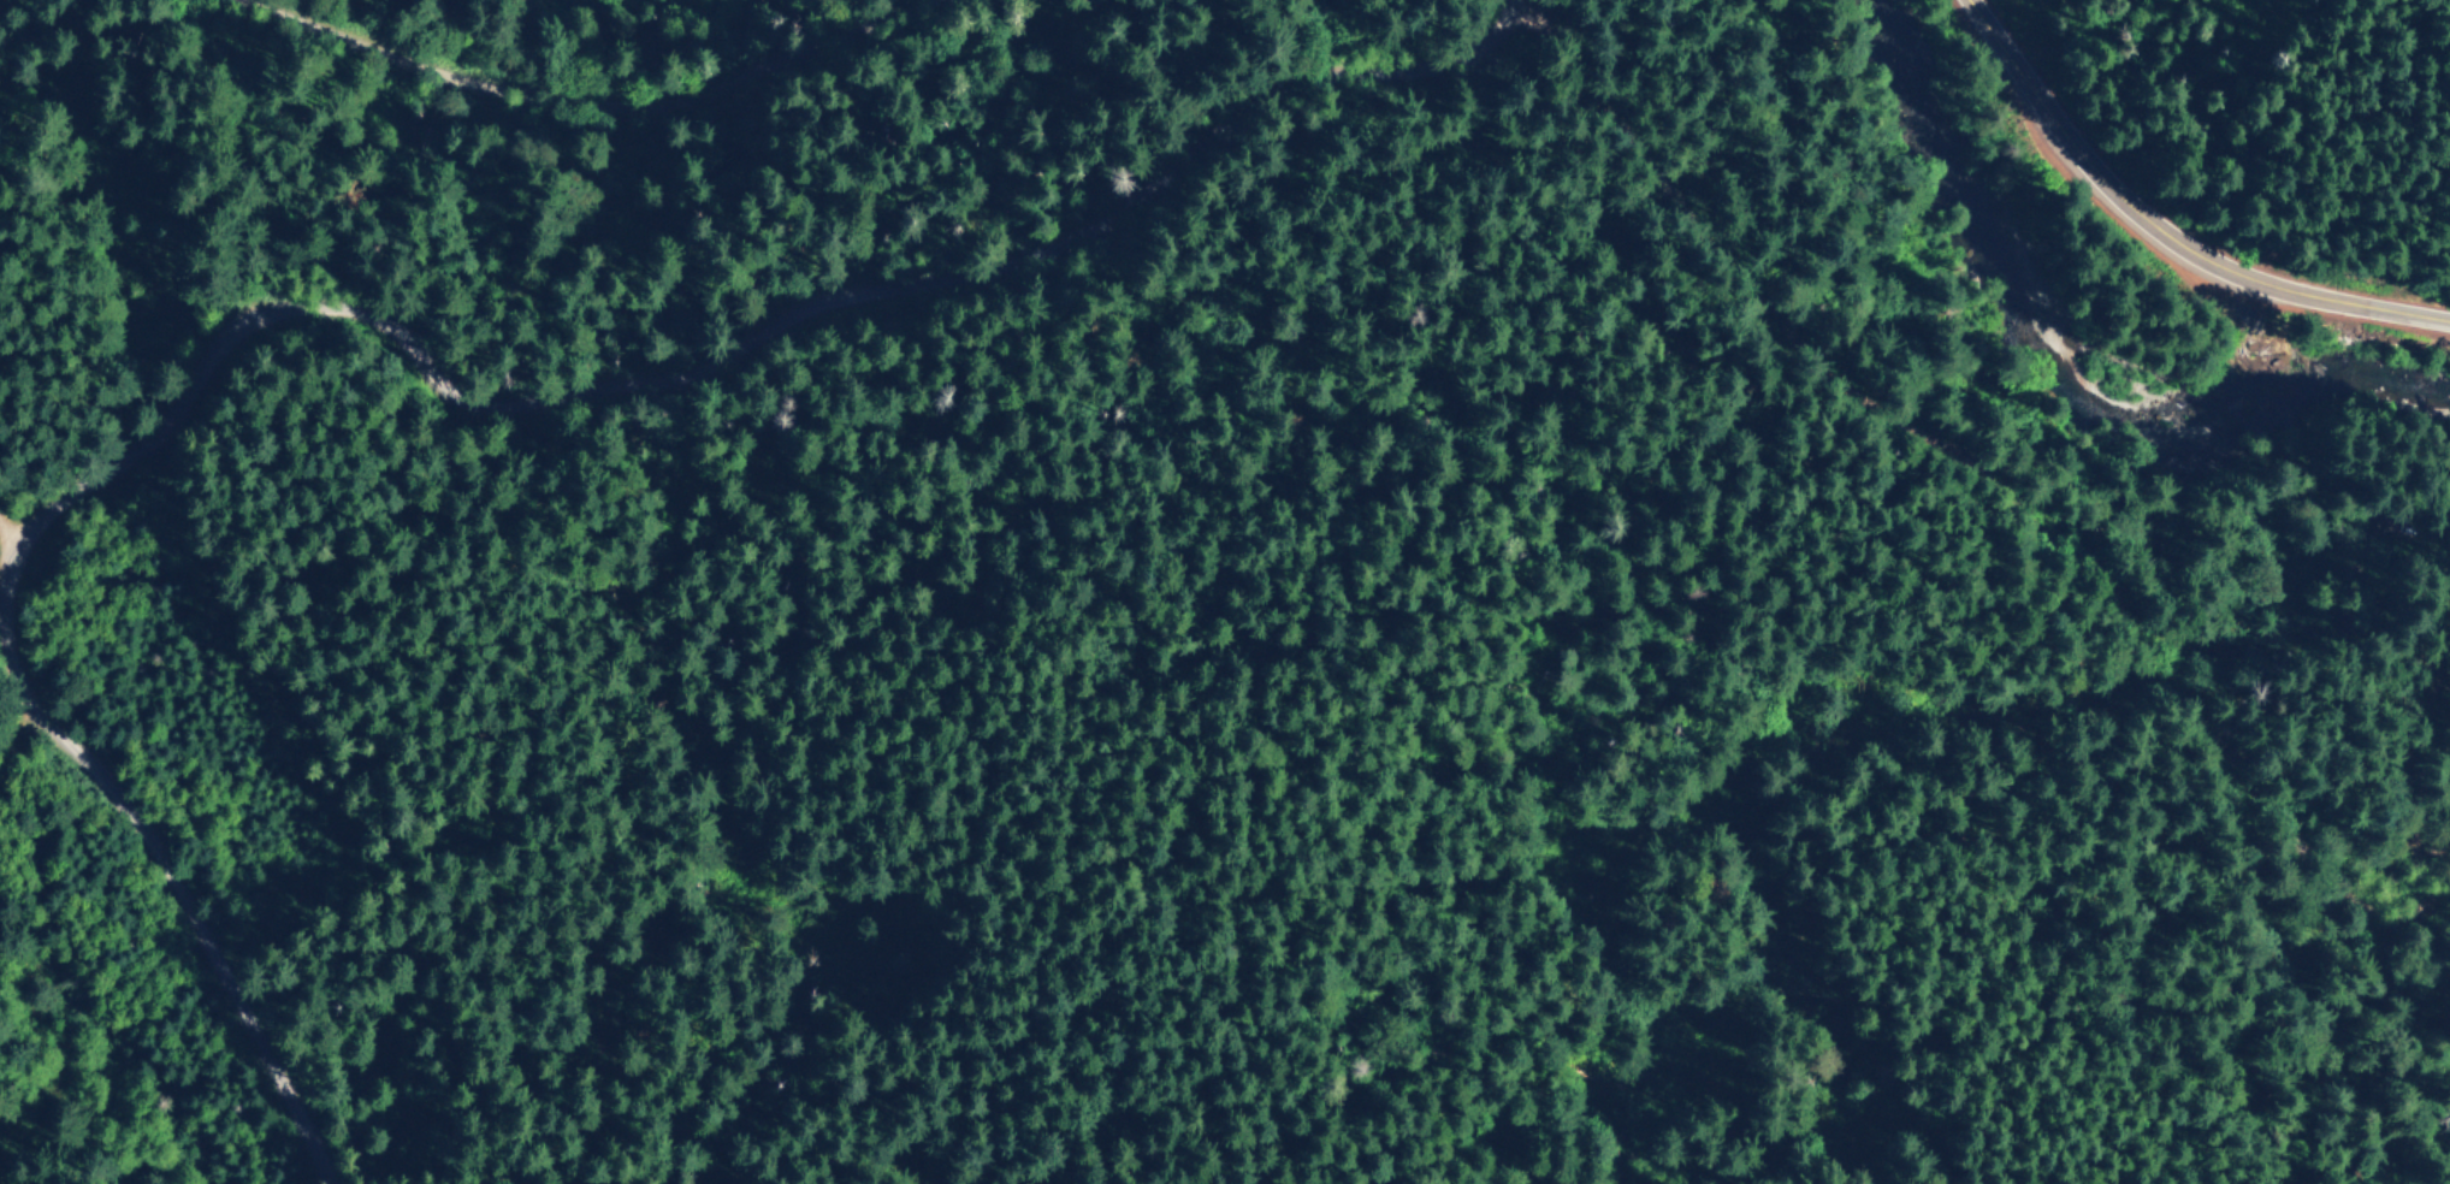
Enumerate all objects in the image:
road: (1528, 39)
road: (626, 57)
road: (2148, 250)
road: (372, 283)
road: (1424, 350)
river: (2063, 353)
road: (40, 410)
road: (2065, 557)
road: (45, 698)

